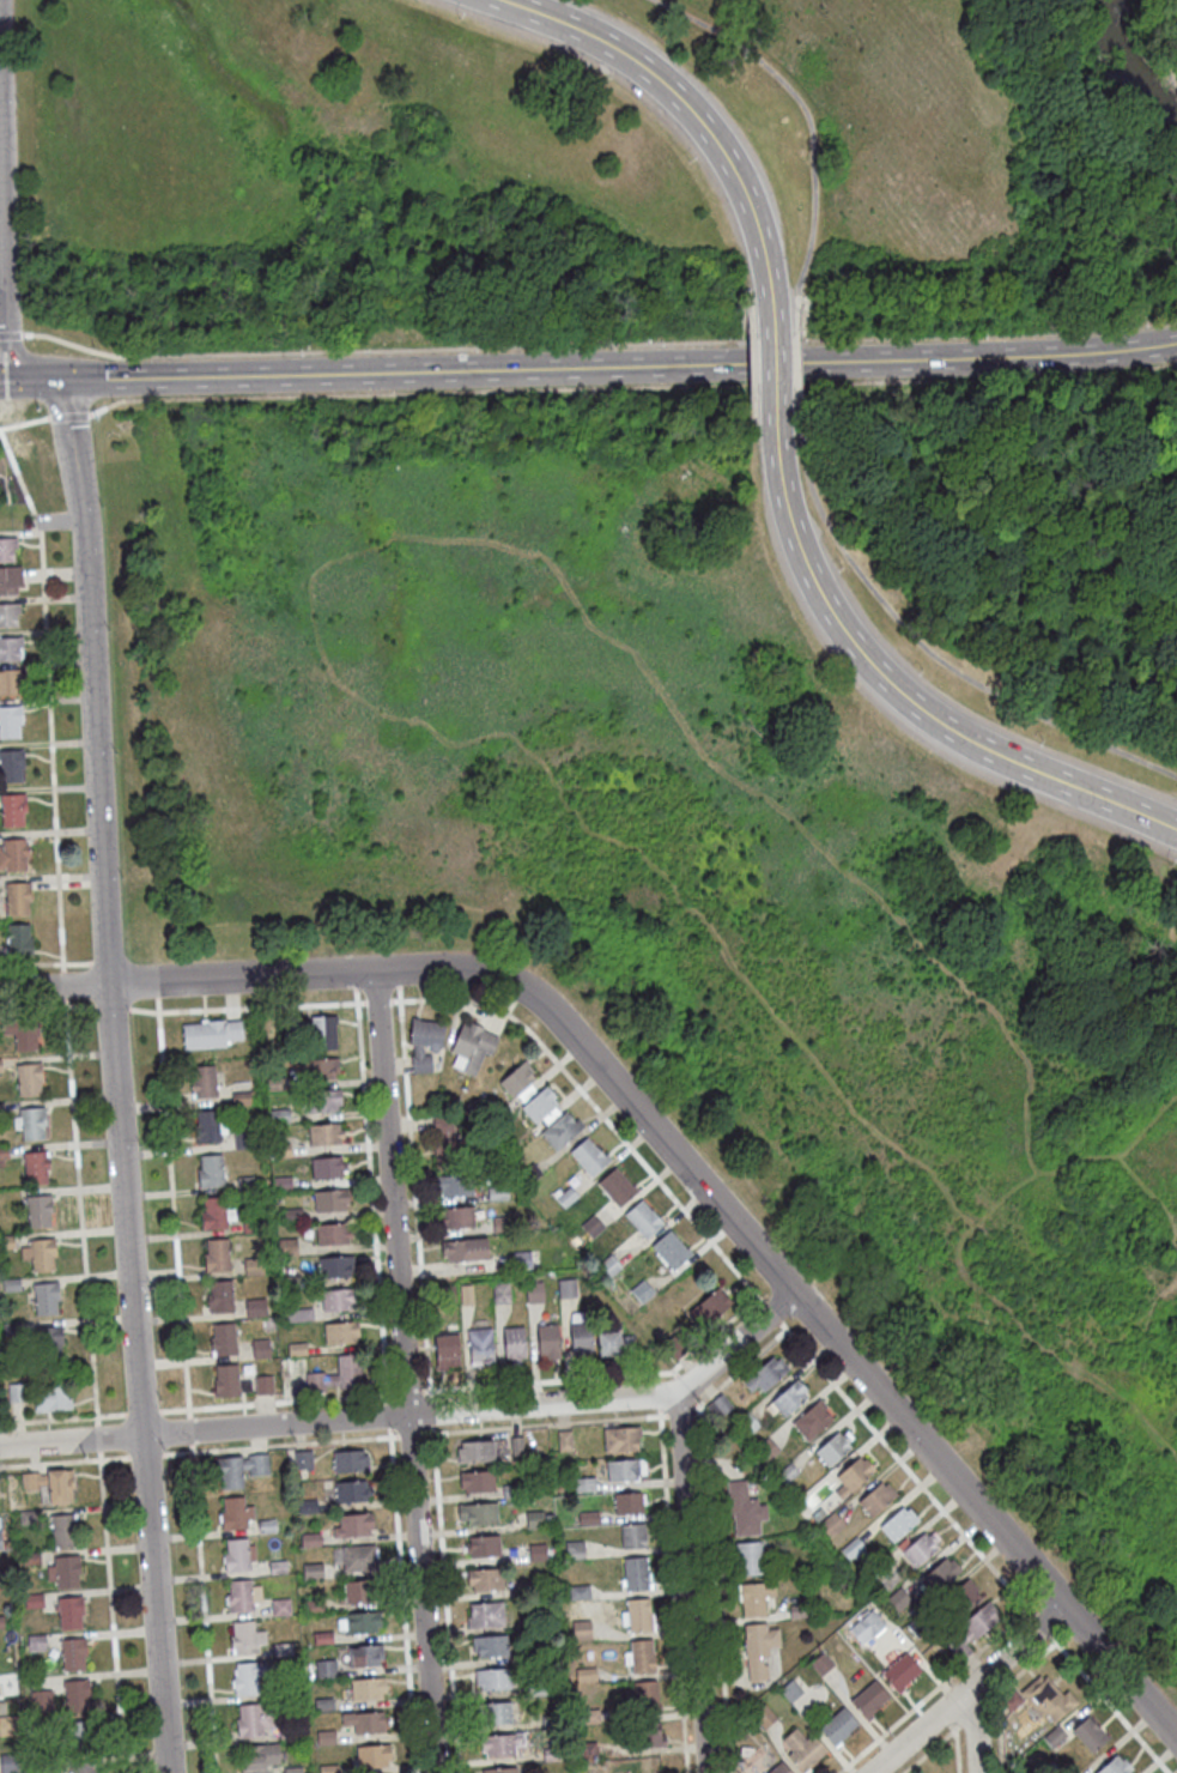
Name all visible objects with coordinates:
river: (1124, 65)
road: (681, 103)
road: (806, 116)
park: (597, 168)
street lamp: (741, 292)
road: (747, 299)
road: (800, 302)
road: (10, 333)
road: (1, 334)
street lamp: (983, 335)
street lamp: (661, 341)
road: (596, 345)
road: (771, 352)
road: (751, 358)
road: (795, 358)
road: (618, 367)
road: (29, 381)
traffic signals: (30, 381)
road: (649, 386)
road: (104, 406)
road: (68, 414)
road: (24, 420)
road: (753, 424)
road: (803, 426)
road: (1008, 447)
building: (6, 550)
road: (340, 559)
street lamp: (837, 570)
building: (10, 581)
building: (7, 616)
road: (927, 649)
building: (10, 650)
street lamp: (917, 672)
building: (7, 684)
road: (897, 691)
road: (48, 697)
building: (10, 724)
street lamp: (1039, 742)
building: (11, 767)
building: (12, 811)
park: (738, 825)
building: (12, 857)
street lamp: (1169, 867)
building: (16, 900)
building: (18, 943)
road: (97, 961)
road: (44, 963)
road: (396, 978)
road: (354, 979)
road: (61, 985)
road: (157, 988)
road: (377, 1000)
road: (47, 1006)
road: (247, 1006)
road: (110, 1007)
building: (311, 1033)
building: (20, 1035)
building: (208, 1036)
building: (423, 1045)
building: (471, 1049)
building: (0, 1070)
building: (318, 1071)
road: (115, 1076)
building: (28, 1082)
building: (202, 1084)
building: (517, 1084)
building: (275, 1087)
building: (241, 1100)
building: (322, 1102)
building: (540, 1108)
road: (597, 1109)
building: (1, 1111)
building: (467, 1113)
building: (278, 1119)
building: (29, 1125)
building: (207, 1130)
building: (559, 1132)
building: (323, 1137)
building: (243, 1143)
building: (443, 1145)
building: (279, 1152)
building: (2, 1155)
building: (588, 1160)
road: (679, 1160)
building: (35, 1169)
building: (326, 1169)
building: (208, 1173)
building: (528, 1175)
building: (245, 1186)
building: (281, 1186)
road: (1136, 1186)
building: (457, 1187)
road: (413, 1190)
building: (617, 1190)
road: (371, 1192)
building: (497, 1196)
building: (564, 1198)
building: (329, 1203)
road: (172, 1205)
road: (79, 1211)
building: (37, 1214)
building: (214, 1216)
building: (292, 1217)
building: (456, 1221)
building: (643, 1222)
building: (500, 1226)
building: (250, 1227)
building: (591, 1229)
building: (332, 1236)
building: (6, 1245)
building: (287, 1249)
building: (463, 1253)
building: (669, 1253)
building: (38, 1257)
building: (216, 1258)
building: (523, 1261)
road: (963, 1267)
building: (251, 1269)
building: (334, 1269)
building: (608, 1269)
building: (289, 1284)
building: (10, 1287)
building: (565, 1291)
building: (533, 1294)
building: (641, 1294)
building: (499, 1295)
building: (465, 1297)
building: (220, 1299)
building: (45, 1300)
building: (443, 1300)
building: (336, 1302)
building: (710, 1308)
building: (255, 1309)
road: (771, 1311)
building: (297, 1318)
building: (11, 1330)
building: (340, 1335)
building: (581, 1341)
building: (223, 1342)
building: (49, 1343)
building: (548, 1344)
building: (514, 1345)
building: (614, 1347)
building: (479, 1348)
building: (260, 1350)
building: (297, 1351)
building: (445, 1353)
road: (739, 1367)
road: (404, 1372)
road: (674, 1372)
road: (605, 1375)
road: (657, 1375)
building: (338, 1378)
building: (765, 1378)
building: (229, 1384)
building: (263, 1387)
road: (685, 1388)
road: (408, 1390)
building: (17, 1394)
road: (657, 1394)
building: (51, 1400)
road: (277, 1400)
building: (787, 1402)
road: (699, 1404)
building: (722, 1406)
road: (142, 1410)
road: (430, 1410)
road: (698, 1411)
road: (414, 1412)
road: (680, 1412)
road: (387, 1414)
road: (62, 1417)
building: (811, 1422)
road: (545, 1423)
building: (745, 1427)
road: (189, 1428)
road: (411, 1433)
road: (97, 1436)
building: (621, 1441)
road: (279, 1444)
building: (564, 1444)
building: (516, 1448)
building: (833, 1451)
building: (766, 1452)
road: (144, 1453)
building: (481, 1453)
road: (63, 1460)
building: (303, 1463)
building: (350, 1463)
road: (909, 1470)
building: (239, 1471)
building: (624, 1472)
building: (787, 1476)
building: (853, 1478)
building: (477, 1483)
building: (47, 1487)
building: (584, 1487)
building: (351, 1494)
building: (511, 1494)
building: (876, 1501)
building: (627, 1506)
building: (308, 1508)
building: (744, 1512)
building: (235, 1515)
building: (478, 1515)
building: (818, 1518)
building: (28, 1519)
building: (548, 1520)
building: (588, 1520)
building: (534, 1521)
building: (898, 1526)
building: (353, 1527)
building: (831, 1527)
building: (266, 1529)
building: (62, 1532)
building: (632, 1538)
building: (310, 1542)
building: (0, 1543)
building: (483, 1549)
building: (853, 1551)
building: (917, 1551)
building: (575, 1553)
building: (536, 1555)
building: (238, 1557)
building: (30, 1560)
building: (359, 1560)
building: (748, 1561)
building: (278, 1569)
building: (313, 1573)
building: (63, 1574)
building: (635, 1577)
building: (941, 1577)
building: (875, 1578)
building: (1, 1580)
building: (485, 1581)
road: (691, 1583)
building: (540, 1591)
road: (673, 1591)
road: (716, 1592)
building: (358, 1595)
building: (580, 1595)
building: (242, 1598)
building: (964, 1598)
road: (445, 1599)
road: (402, 1600)
building: (754, 1602)
building: (32, 1603)
building: (897, 1603)
road: (204, 1606)
building: (314, 1606)
building: (281, 1609)
road: (110, 1611)
building: (797, 1612)
building: (69, 1615)
building: (485, 1617)
building: (638, 1618)
building: (541, 1622)
building: (1, 1623)
building: (362, 1624)
road: (1043, 1627)
building: (867, 1629)
building: (582, 1632)
building: (972, 1632)
building: (245, 1639)
building: (322, 1640)
building: (759, 1642)
building: (36, 1645)
building: (491, 1648)
building: (283, 1652)
building: (72, 1656)
building: (545, 1657)
building: (365, 1658)
building: (641, 1659)
building: (821, 1666)
road: (1020, 1669)
building: (326, 1671)
building: (757, 1672)
building: (899, 1675)
building: (586, 1677)
building: (251, 1678)
building: (493, 1681)
building: (536, 1688)
road: (967, 1689)
building: (368, 1690)
road: (932, 1690)
building: (286, 1692)
building: (790, 1694)
building: (75, 1698)
building: (642, 1701)
building: (1046, 1701)
building: (41, 1702)
building: (868, 1702)
building: (1011, 1702)
road: (1109, 1704)
building: (323, 1706)
road: (972, 1711)
building: (586, 1714)
building: (498, 1715)
building: (764, 1719)
building: (253, 1723)
building: (551, 1723)
building: (365, 1724)
building: (43, 1726)
building: (8, 1727)
building: (837, 1729)
road: (975, 1729)
road: (997, 1732)
building: (289, 1735)
building: (1088, 1737)
building: (645, 1738)
building: (78, 1739)
building: (326, 1739)
building: (1054, 1739)
building: (500, 1747)
road: (930, 1748)
road: (957, 1750)
building: (802, 1753)
building: (587, 1754)
building: (556, 1756)
building: (746, 1756)
building: (259, 1759)
building: (372, 1759)
building: (10, 1763)
building: (44, 1767)
building: (1116, 1767)
building: (83, 1768)
building: (328, 1769)
building: (779, 1769)
building: (293, 1771)
building: (504, 1771)

